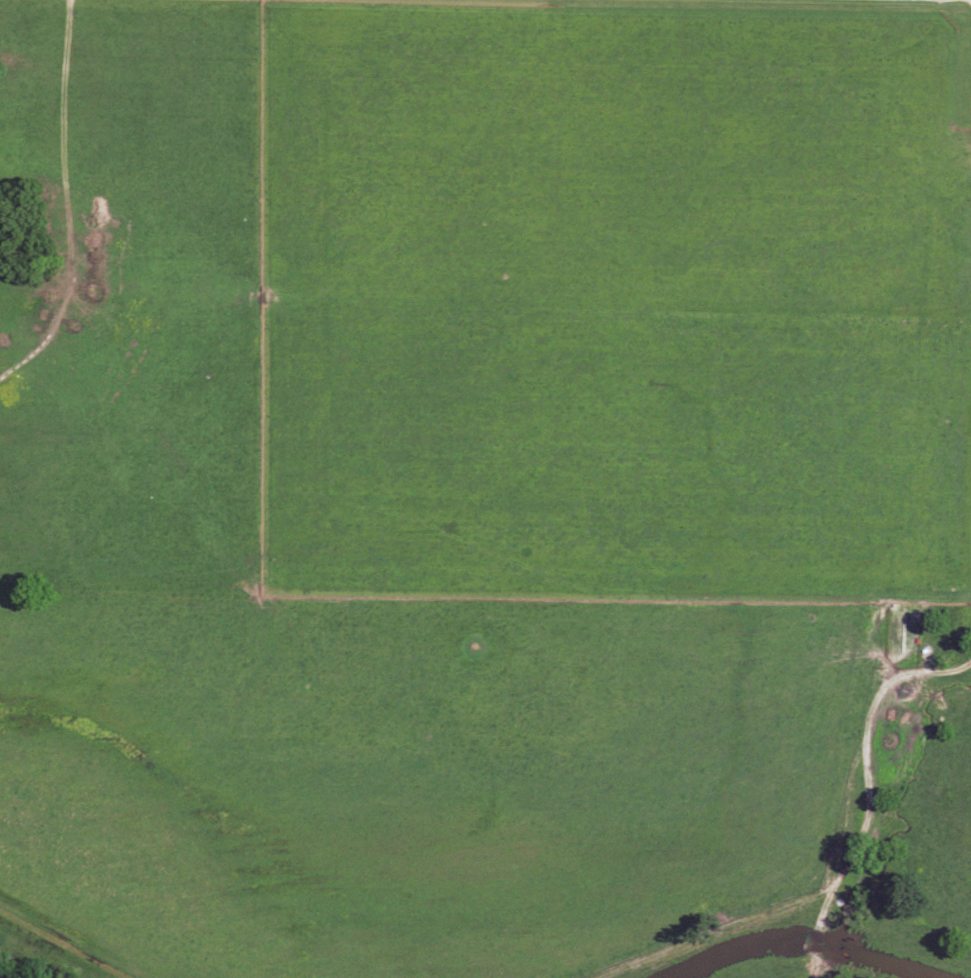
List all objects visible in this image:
road: (970, 0)

